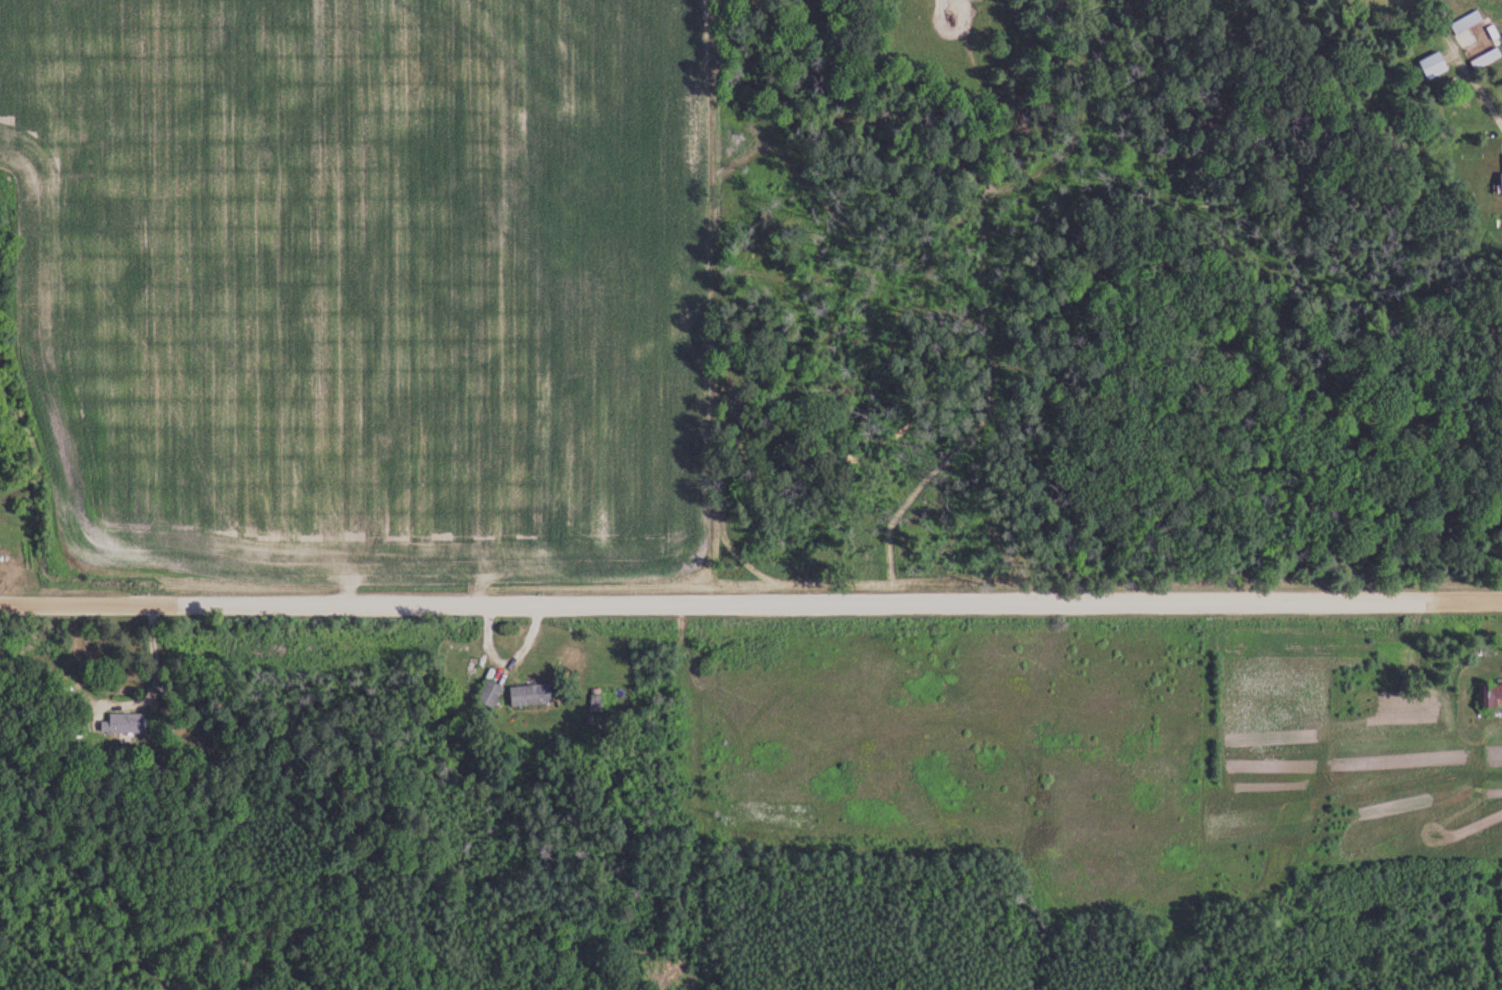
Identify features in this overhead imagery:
building: (1467, 22)
building: (1475, 41)
building: (1434, 65)
road: (751, 601)
road: (153, 681)
building: (491, 694)
building: (532, 695)
building: (1491, 696)
building: (126, 723)

